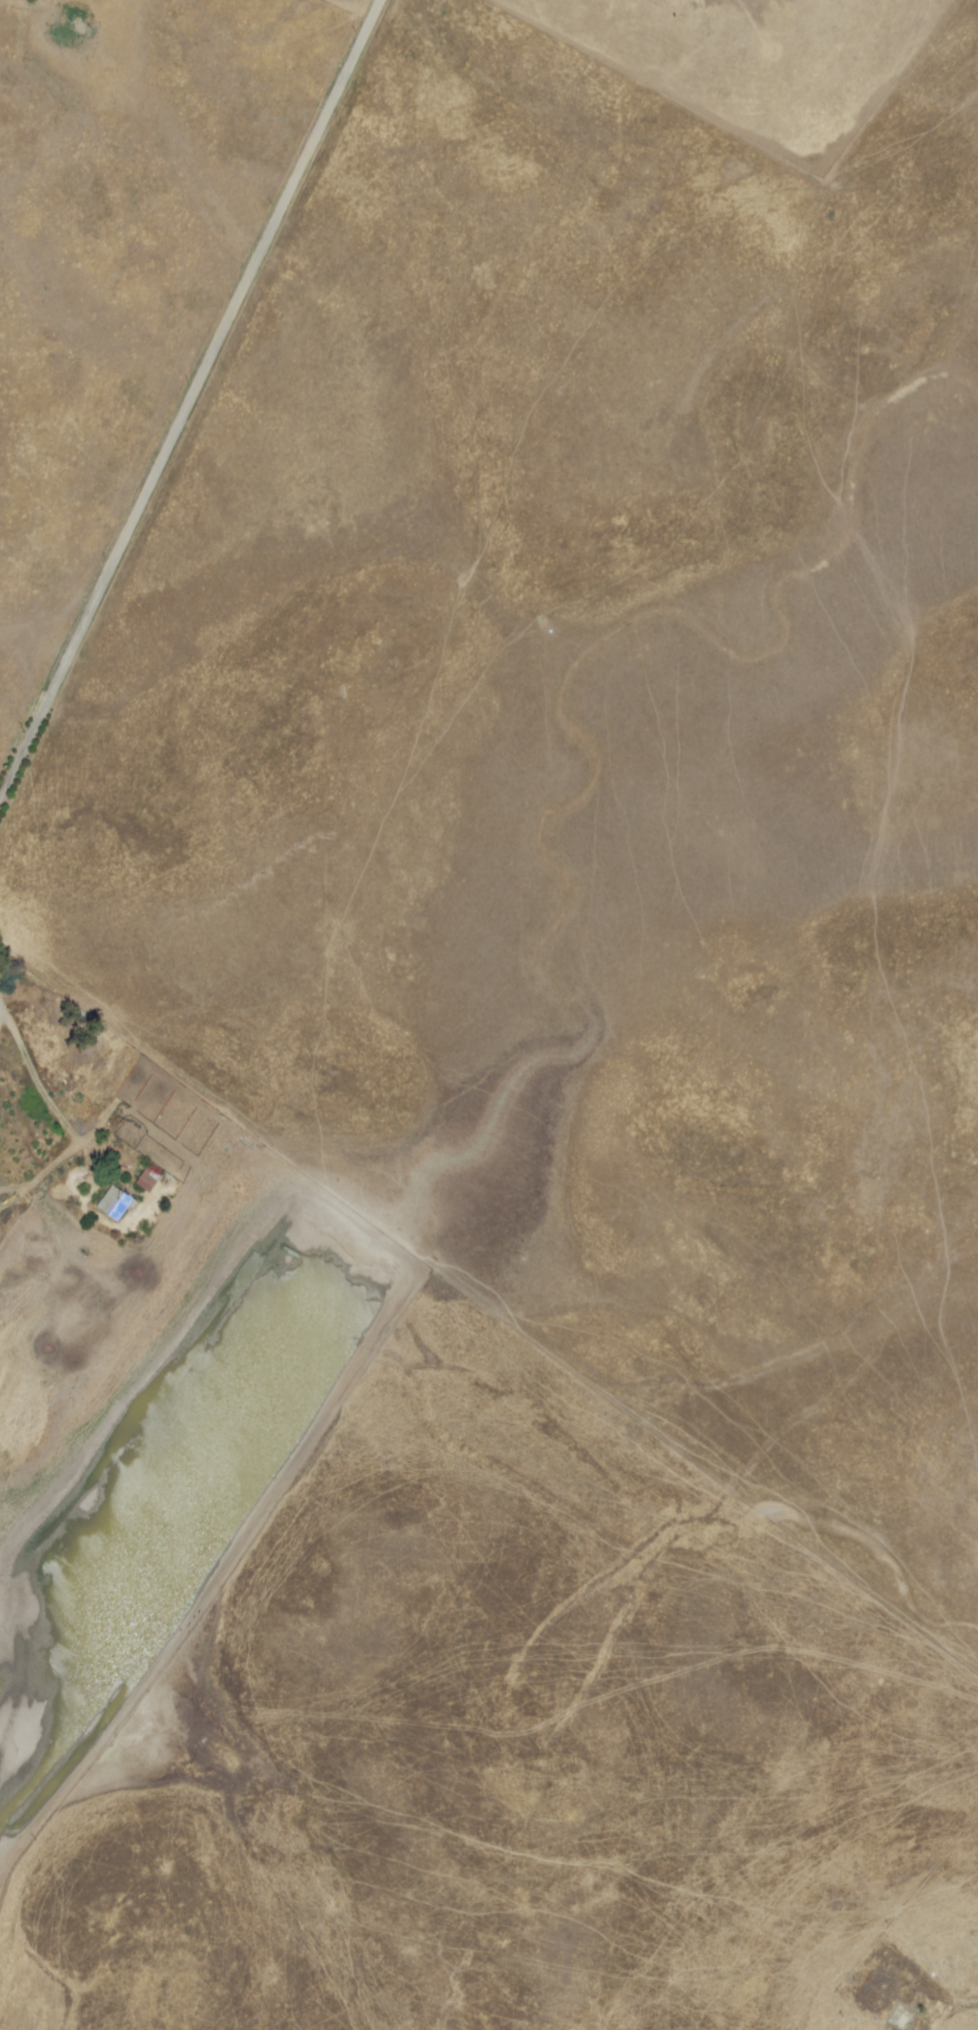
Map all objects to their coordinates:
road: (186, 395)
road: (57, 1116)
building: (145, 1180)
building: (114, 1203)

